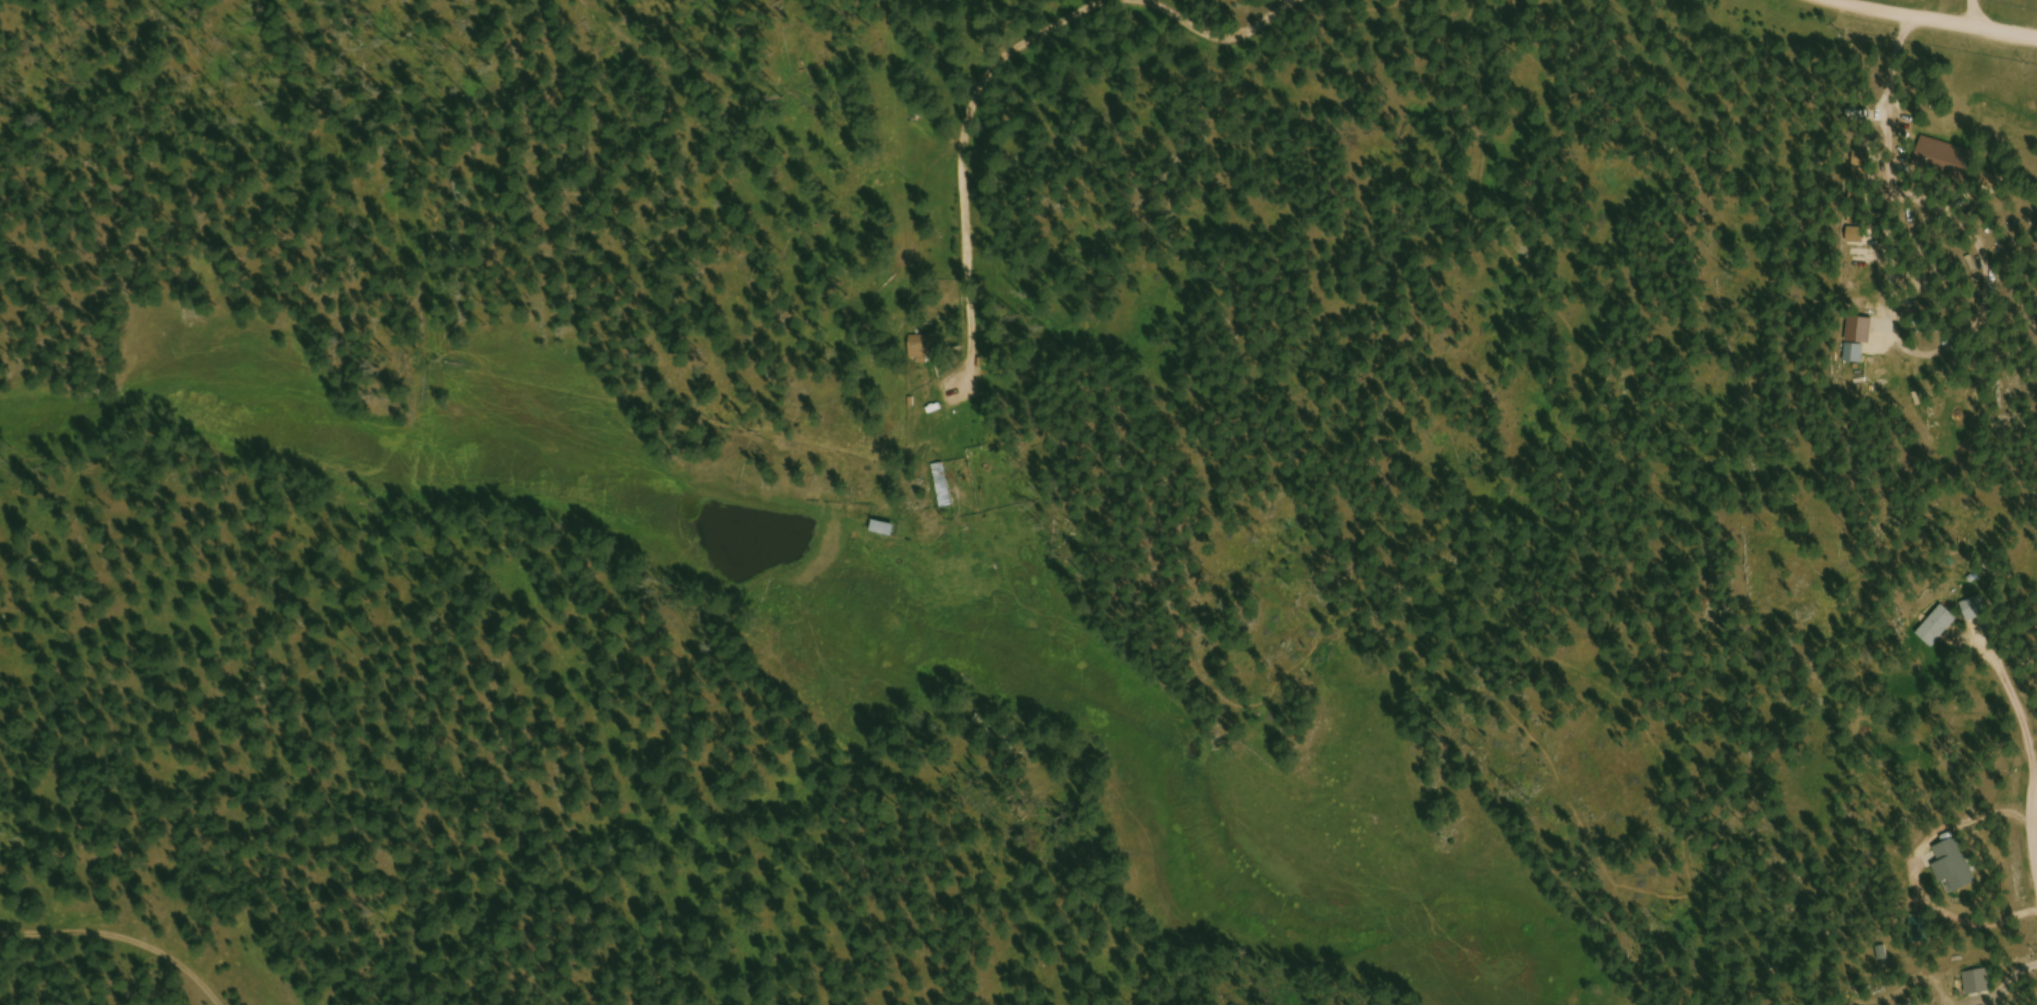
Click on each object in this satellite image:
airport: (2012, 4)
road: (1147, 7)
road: (1975, 11)
road: (1943, 16)
building: (1948, 161)
building: (924, 350)
building: (1855, 356)
building: (943, 488)
building: (884, 531)
building: (1979, 613)
building: (1939, 627)
road: (2033, 825)
building: (1955, 868)
road: (118, 937)
building: (1978, 984)

